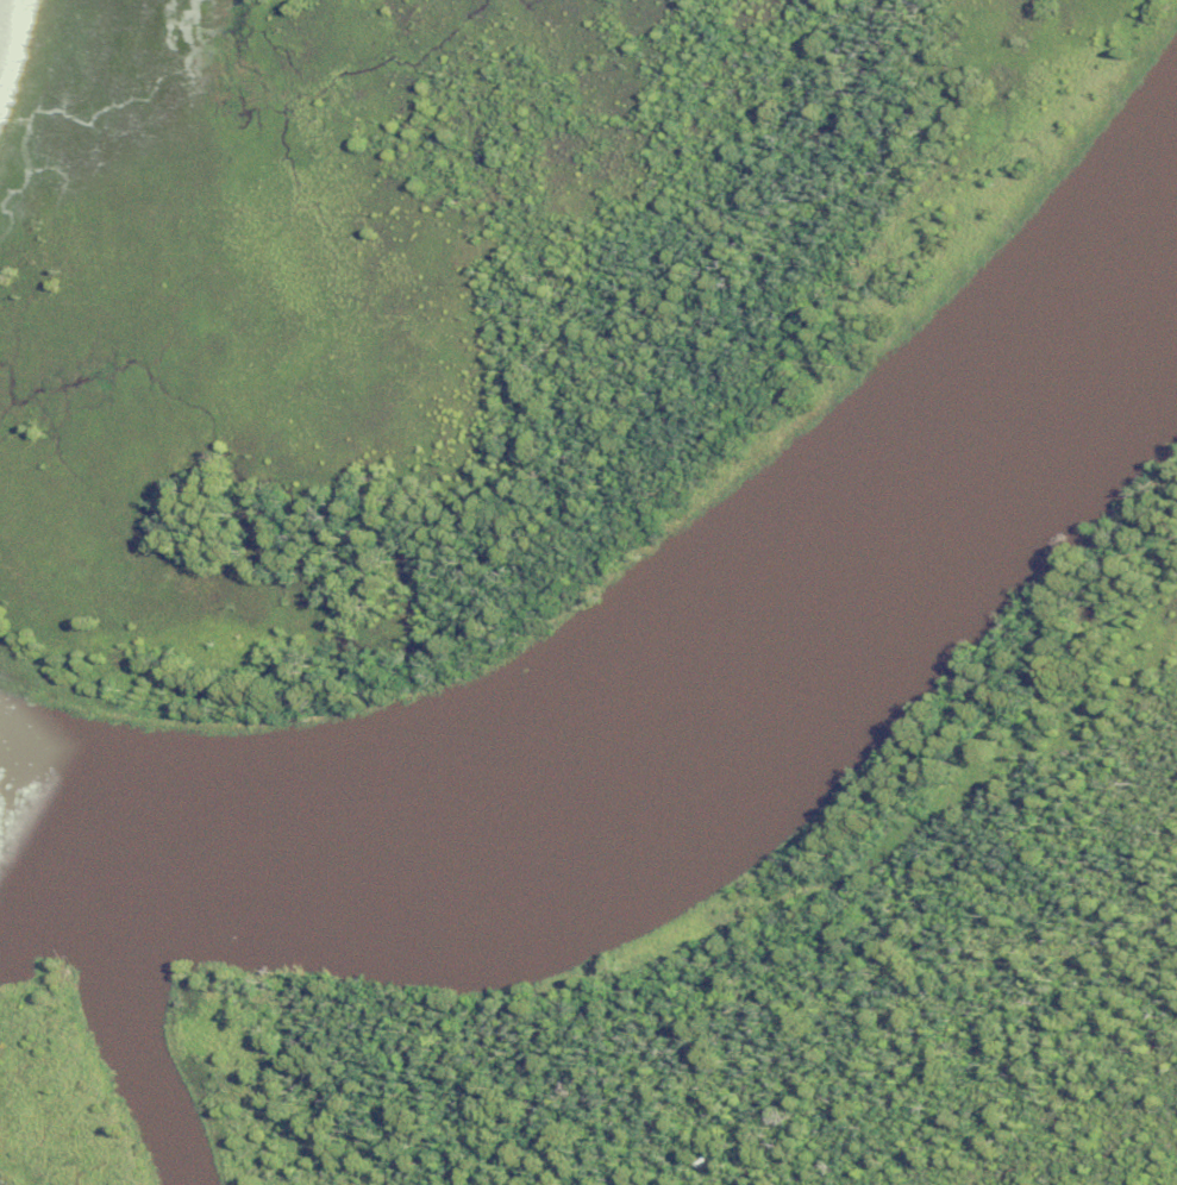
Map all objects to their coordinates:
river: (672, 719)
river: (132, 1026)

